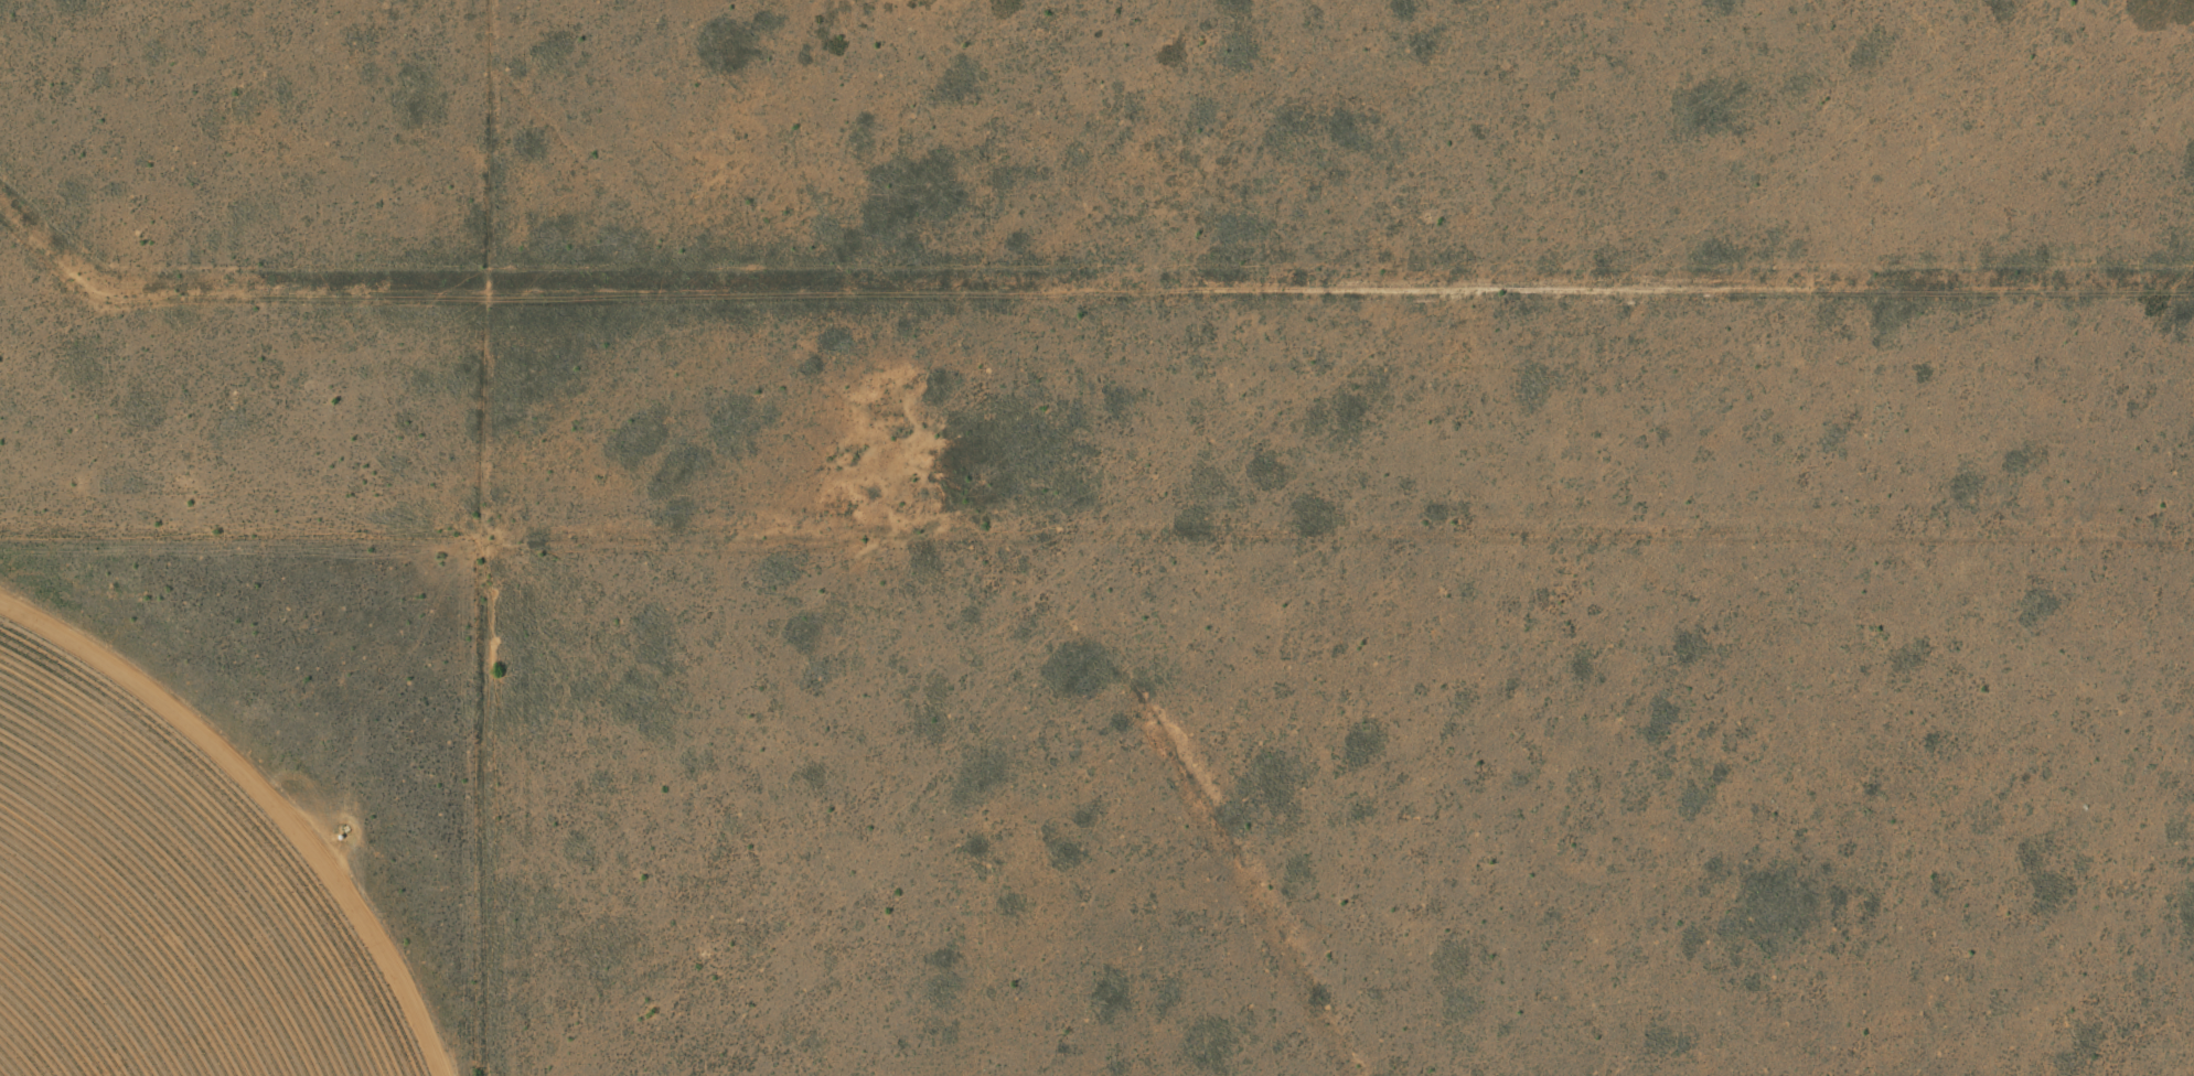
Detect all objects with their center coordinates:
road: (494, 538)
road: (1096, 558)

